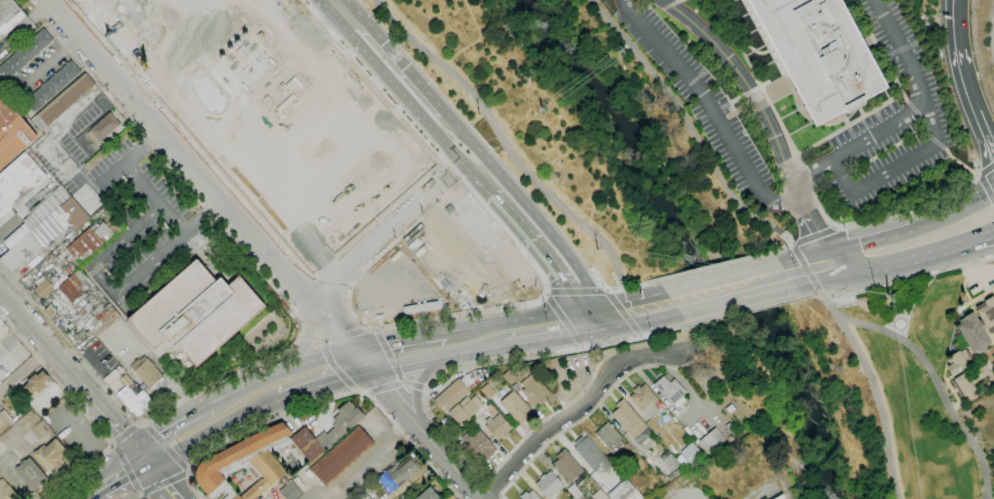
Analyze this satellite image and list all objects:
road: (348, 1)
road: (666, 3)
road: (675, 3)
road: (327, 8)
road: (342, 9)
building: (9, 16)
road: (327, 21)
river: (544, 25)
road: (310, 37)
road: (187, 49)
road: (880, 51)
building: (25, 53)
building: (817, 54)
road: (397, 57)
road: (50, 59)
river: (578, 65)
road: (966, 78)
road: (757, 81)
building: (53, 85)
building: (0, 87)
building: (0, 88)
road: (777, 89)
building: (15, 90)
road: (752, 90)
parking lot: (699, 96)
road: (737, 98)
road: (754, 98)
road: (755, 99)
building: (62, 102)
building: (217, 105)
road: (412, 105)
road: (721, 106)
road: (711, 109)
road: (736, 110)
road: (860, 111)
power tower: (477, 114)
road: (908, 115)
road: (722, 119)
parking lot: (890, 123)
road: (849, 124)
road: (924, 126)
building: (104, 127)
road: (690, 127)
park: (588, 132)
building: (12, 133)
road: (162, 133)
road: (46, 136)
building: (345, 137)
road: (503, 143)
road: (429, 145)
road: (958, 162)
road: (125, 163)
road: (894, 167)
road: (987, 170)
road: (978, 174)
road: (808, 176)
building: (19, 185)
road: (986, 188)
road: (154, 199)
building: (338, 199)
road: (241, 200)
road: (527, 205)
road: (957, 211)
building: (38, 214)
building: (74, 214)
road: (890, 216)
building: (476, 223)
road: (835, 227)
building: (49, 228)
road: (818, 231)
road: (795, 233)
road: (125, 236)
road: (813, 236)
road: (988, 239)
building: (94, 240)
road: (875, 240)
road: (372, 241)
road: (169, 247)
road: (783, 247)
road: (537, 249)
traffic signals: (831, 251)
power tower: (599, 252)
building: (20, 254)
road: (816, 254)
road: (915, 259)
road: (790, 260)
road: (803, 262)
road: (839, 263)
road: (714, 266)
traffic signals: (847, 275)
road: (722, 277)
road: (831, 278)
road: (103, 280)
road: (296, 282)
road: (898, 282)
road: (804, 283)
river: (726, 284)
building: (75, 285)
road: (631, 285)
building: (47, 287)
building: (993, 287)
road: (576, 290)
power tower: (887, 295)
road: (634, 299)
road: (736, 299)
traffic signals: (604, 305)
road: (589, 307)
traffic signals: (575, 310)
building: (49, 311)
road: (744, 311)
building: (196, 312)
road: (623, 312)
building: (987, 314)
road: (297, 315)
road: (611, 315)
road: (530, 317)
building: (97, 319)
road: (582, 320)
road: (648, 320)
road: (562, 321)
road: (361, 322)
building: (1, 323)
traffic signals: (618, 326)
road: (367, 328)
road: (603, 328)
road: (32, 329)
road: (376, 330)
traffic signals: (589, 331)
building: (973, 333)
flagpole: (292, 334)
road: (343, 335)
road: (302, 336)
road: (420, 336)
road: (313, 338)
road: (548, 338)
road: (308, 340)
road: (991, 349)
traffic signals: (354, 350)
road: (391, 357)
road: (438, 357)
building: (959, 361)
road: (301, 364)
road: (334, 366)
road: (927, 367)
traffic signals: (371, 370)
building: (145, 371)
road: (25, 373)
building: (978, 374)
building: (509, 376)
road: (56, 379)
road: (420, 380)
road: (325, 383)
building: (36, 384)
road: (414, 384)
building: (963, 384)
road: (388, 386)
road: (426, 388)
building: (534, 390)
road: (354, 391)
building: (671, 391)
park: (853, 391)
building: (488, 392)
road: (370, 393)
road: (230, 394)
building: (451, 394)
road: (425, 395)
road: (971, 396)
building: (134, 398)
road: (395, 398)
building: (645, 400)
road: (323, 402)
road: (877, 404)
building: (515, 406)
road: (596, 407)
building: (463, 411)
road: (572, 411)
road: (104, 412)
building: (630, 421)
road: (170, 424)
building: (340, 424)
road: (136, 425)
road: (144, 426)
building: (497, 427)
road: (212, 431)
road: (124, 434)
building: (609, 437)
building: (710, 441)
road: (114, 444)
building: (479, 444)
road: (114, 447)
road: (167, 448)
building: (591, 454)
building: (687, 454)
building: (50, 455)
building: (341, 457)
traffic signals: (143, 458)
building: (254, 461)
building: (567, 466)
road: (128, 470)
road: (188, 470)
road: (82, 472)
building: (31, 473)
road: (118, 475)
road: (188, 475)
building: (397, 475)
road: (160, 478)
road: (164, 483)
road: (495, 483)
building: (548, 485)
building: (621, 490)
building: (7, 491)
building: (289, 491)
building: (574, 491)
road: (140, 493)
road: (142, 493)
building: (428, 494)
road: (86, 495)
building: (362, 495)
building: (529, 495)
road: (142, 496)
road: (986, 496)
road: (175, 497)
building: (779, 497)
building: (256, 498)
building: (260, 498)

